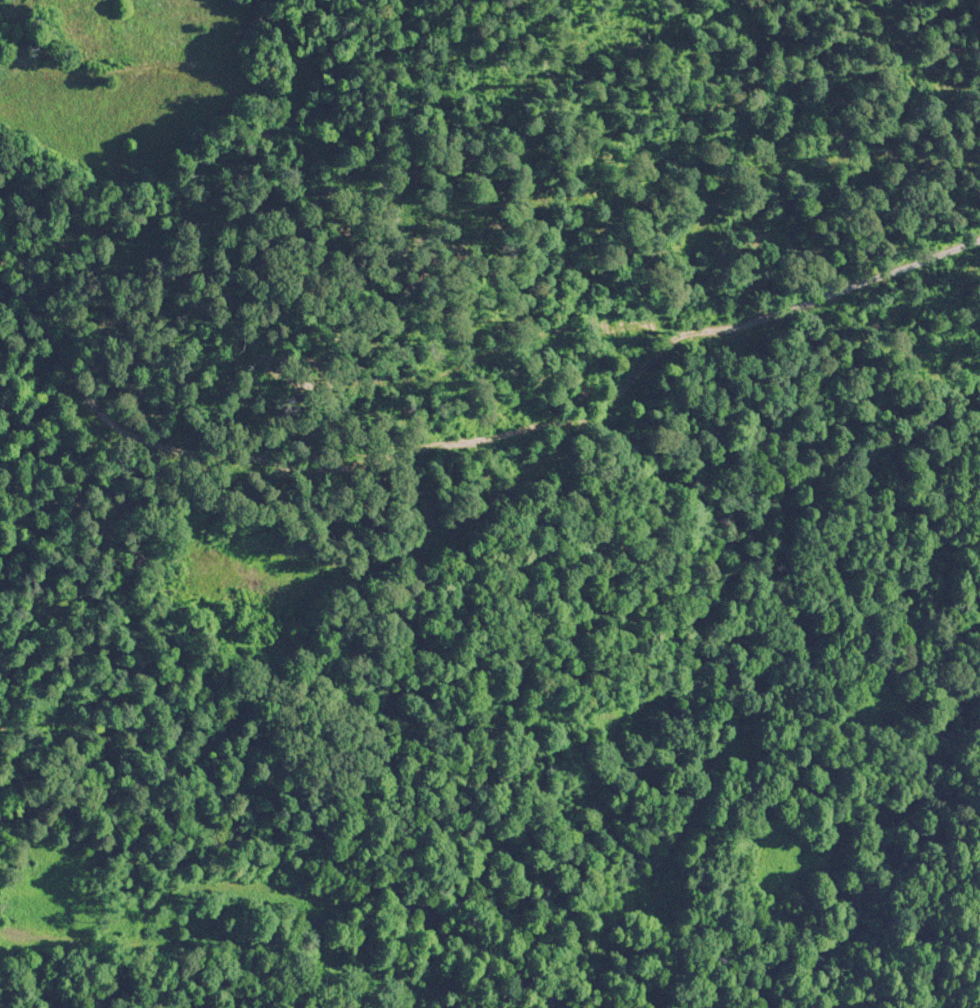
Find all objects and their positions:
railway: (220, 948)

